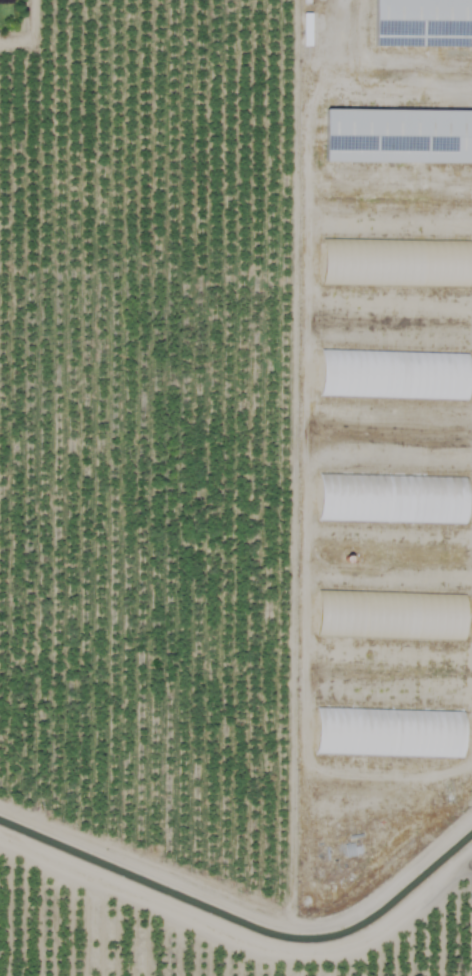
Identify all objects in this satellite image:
building: (422, 23)
building: (396, 136)
building: (393, 375)
building: (391, 498)
crop: (157, 512)
building: (388, 732)

